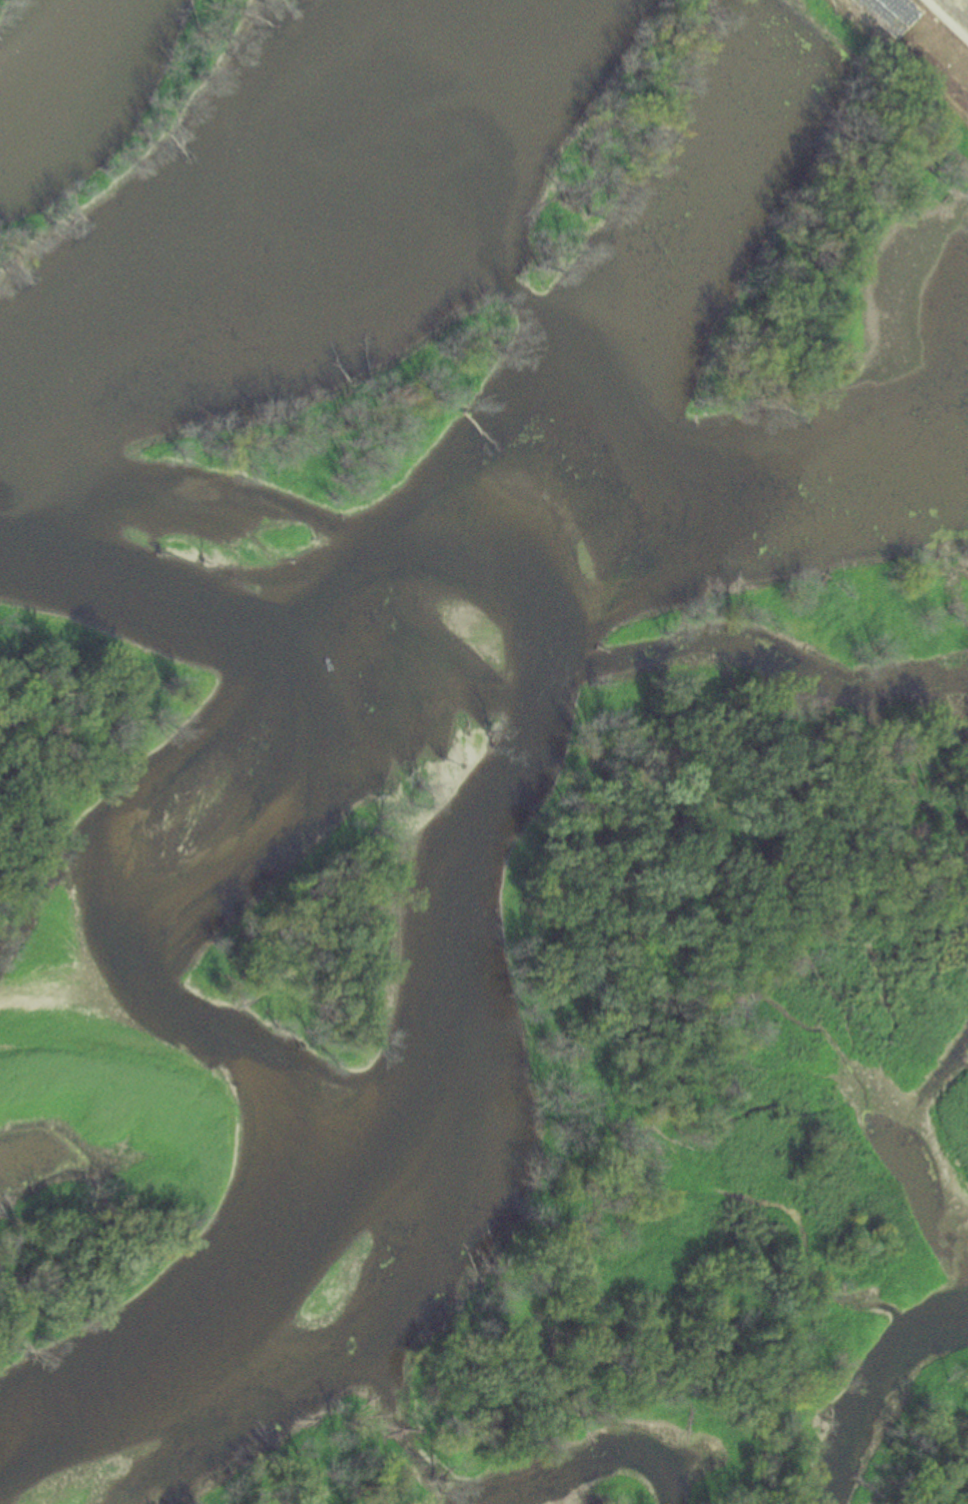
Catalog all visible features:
dam: (937, 29)

